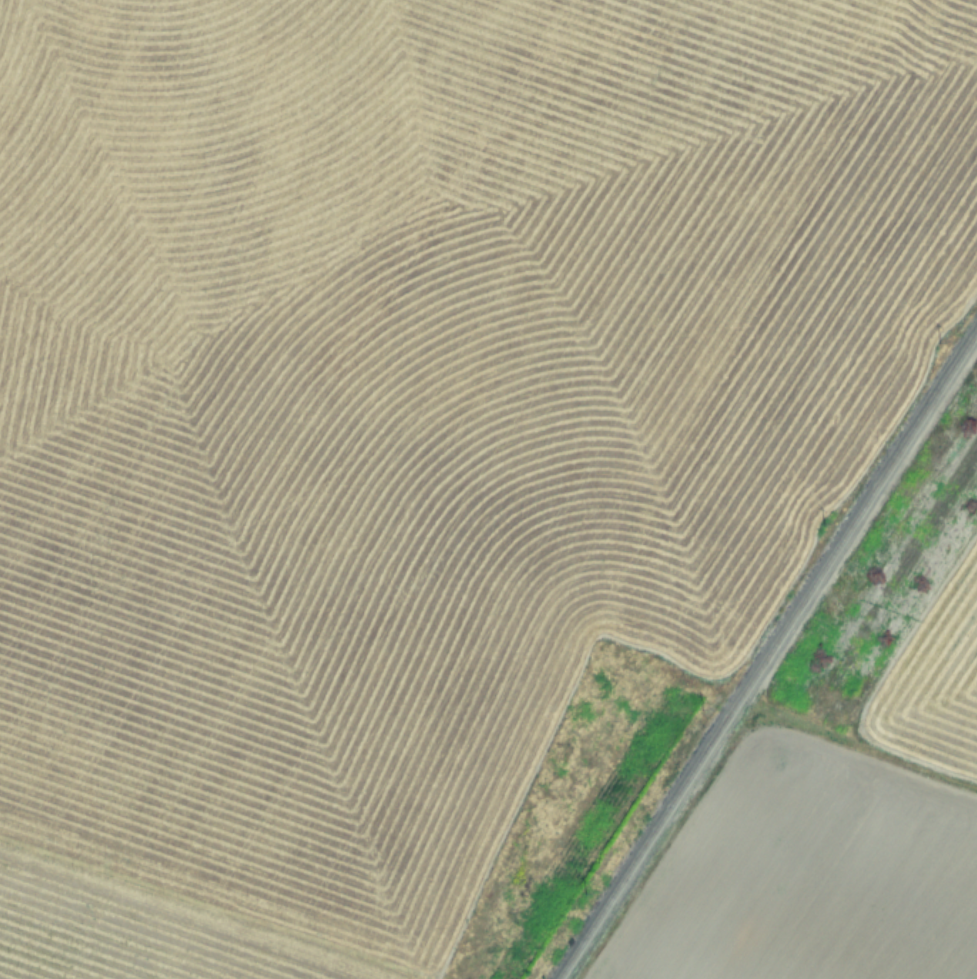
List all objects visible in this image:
crop: (422, 439)
railway: (766, 652)
crop: (844, 773)

